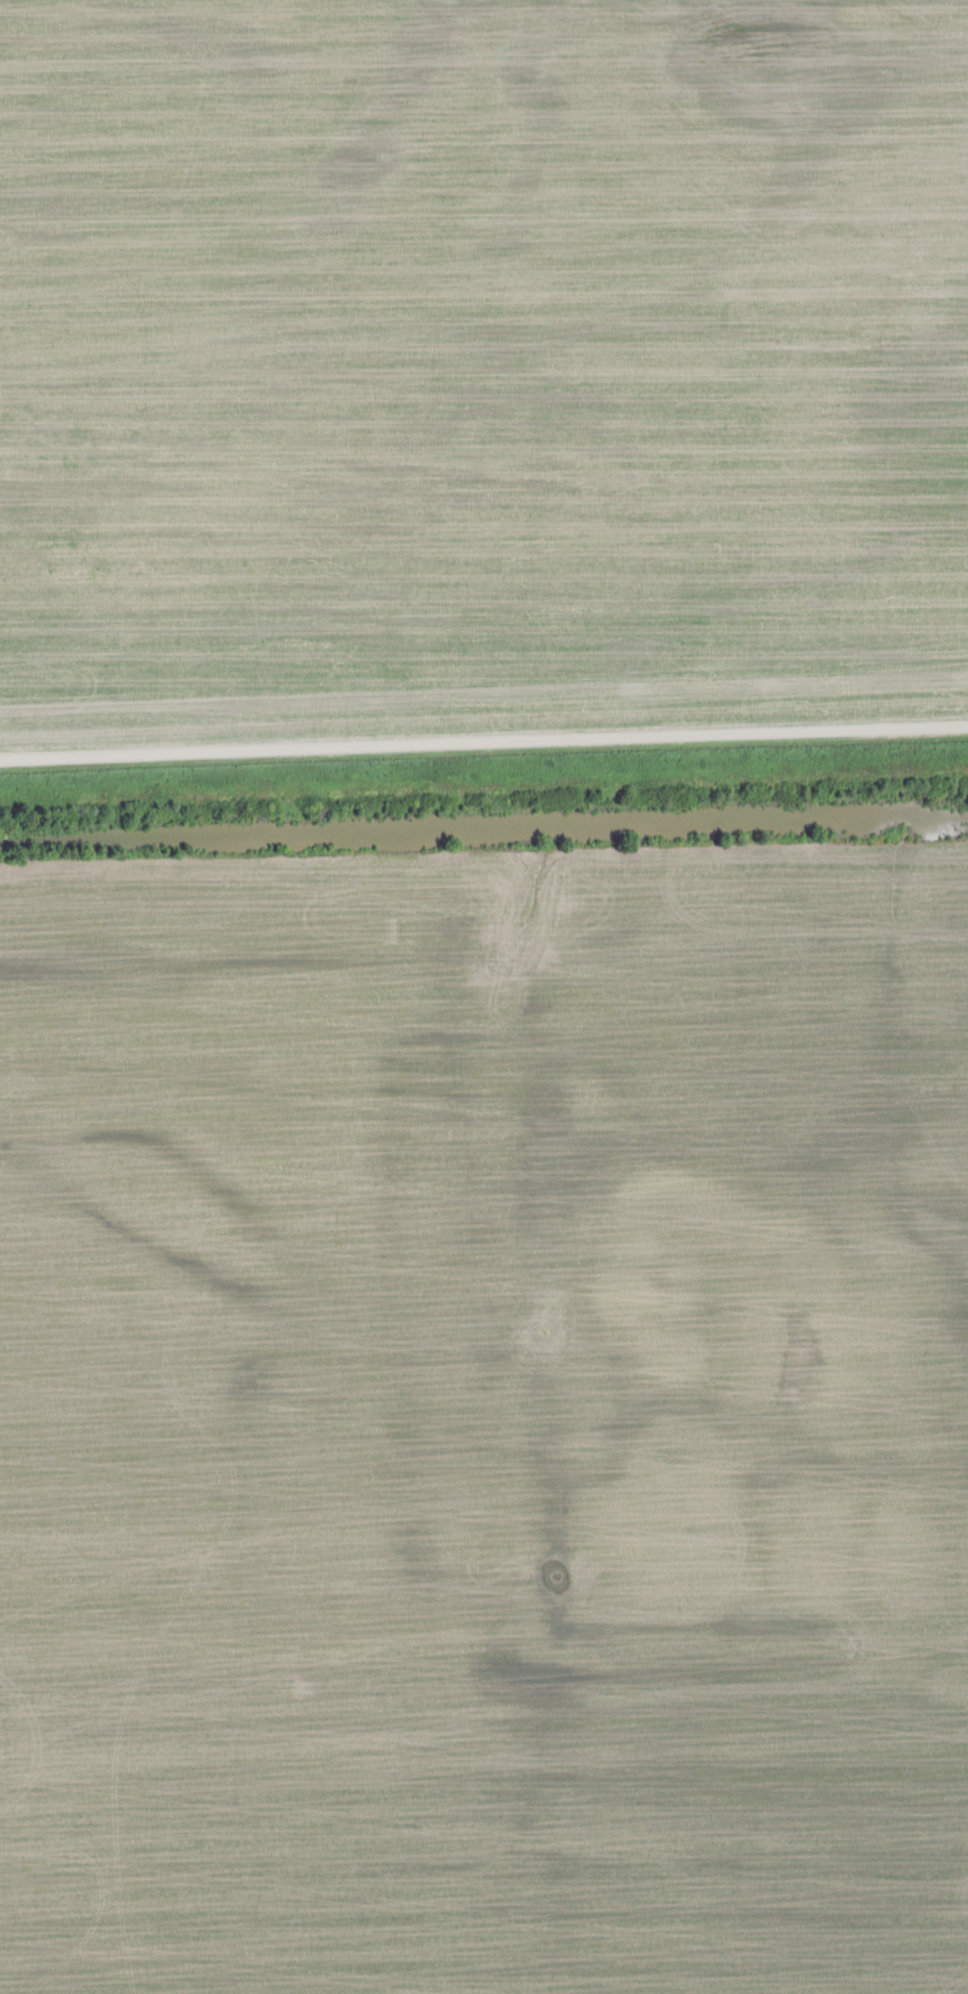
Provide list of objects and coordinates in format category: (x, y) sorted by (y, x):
crop: (480, 360)
road: (484, 738)
crop: (485, 1422)

